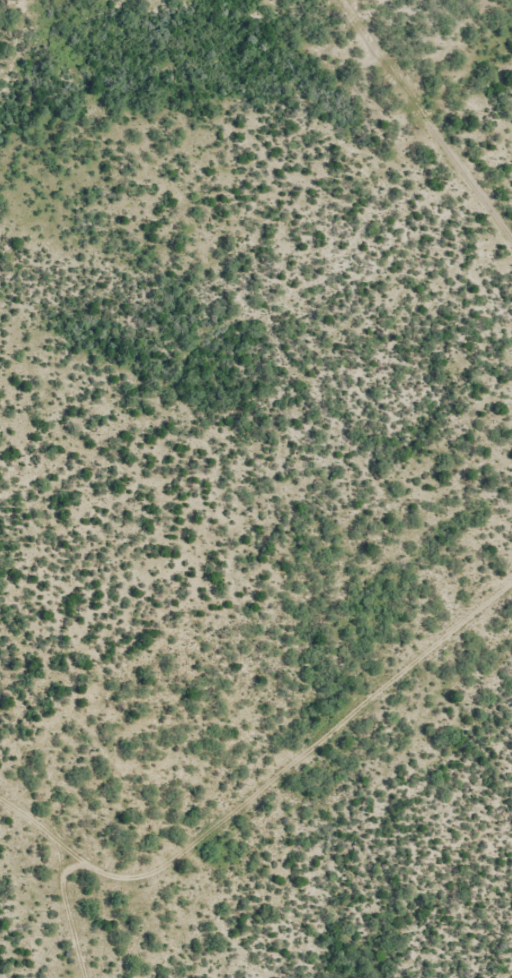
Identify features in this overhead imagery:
road: (271, 799)

